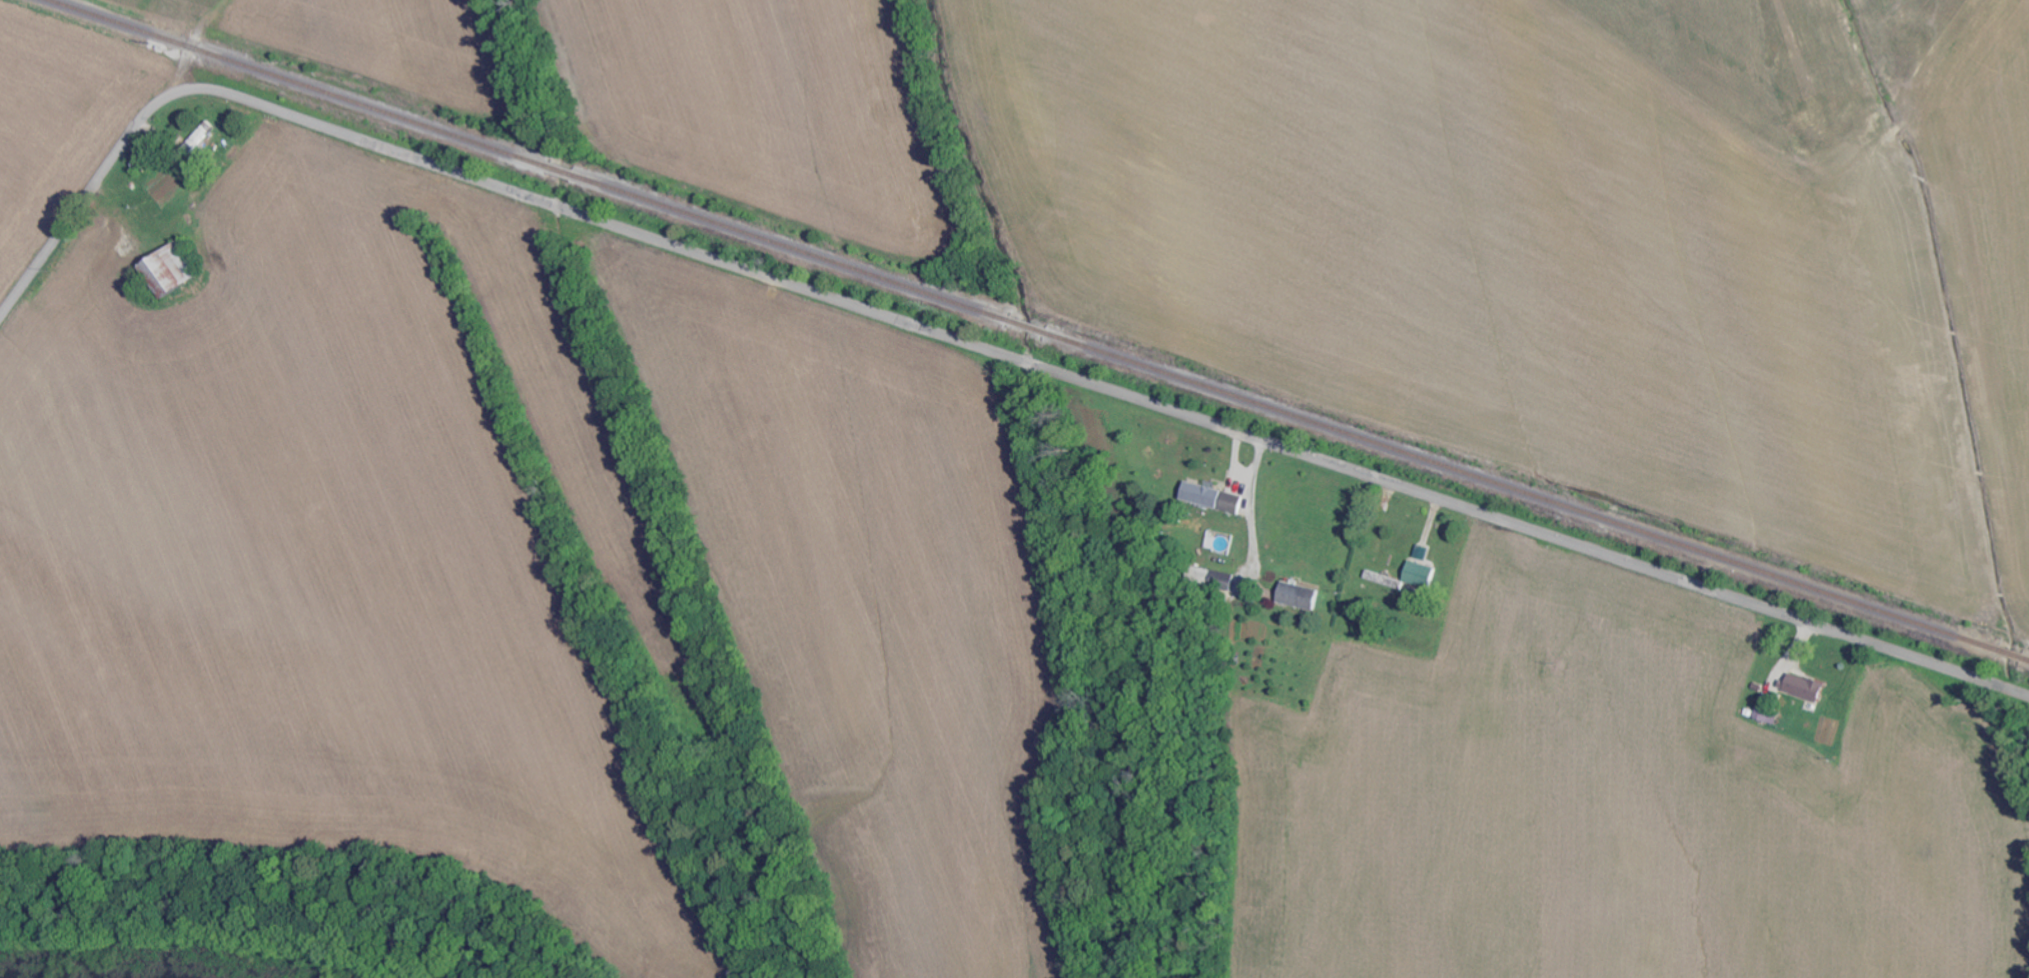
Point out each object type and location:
railway: (296, 84)
railway: (561, 171)
railway: (790, 247)
building: (169, 270)
railway: (1027, 326)
road: (966, 344)
road: (1247, 477)
railway: (1523, 492)
building: (1213, 498)
road: (1259, 536)
building: (1216, 578)
building: (1411, 578)
building: (1300, 597)
railway: (2011, 656)
railway: (2026, 660)
building: (1805, 688)
building: (1768, 716)

